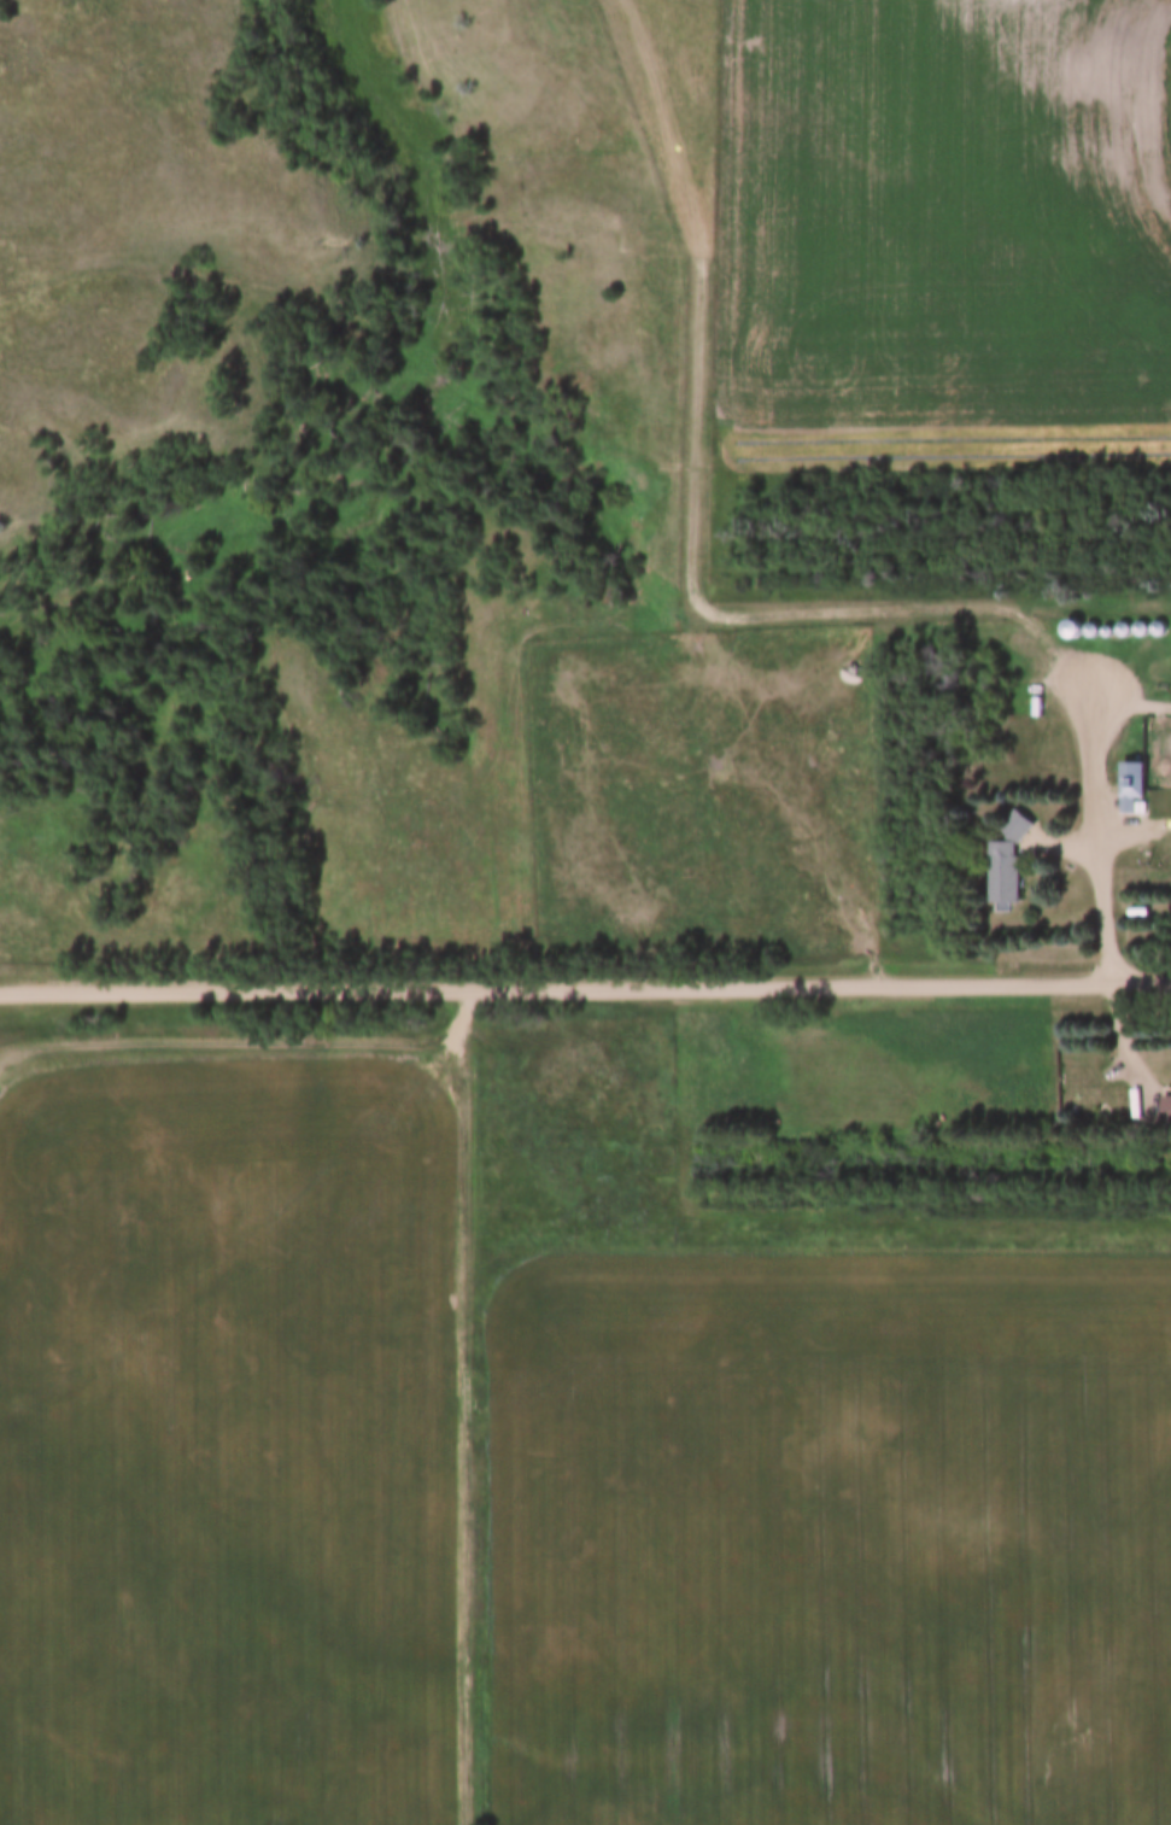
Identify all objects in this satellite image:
road: (696, 438)
road: (1088, 766)
building: (1129, 782)
building: (1000, 873)
road: (585, 983)
building: (1164, 1110)
road: (468, 1404)

